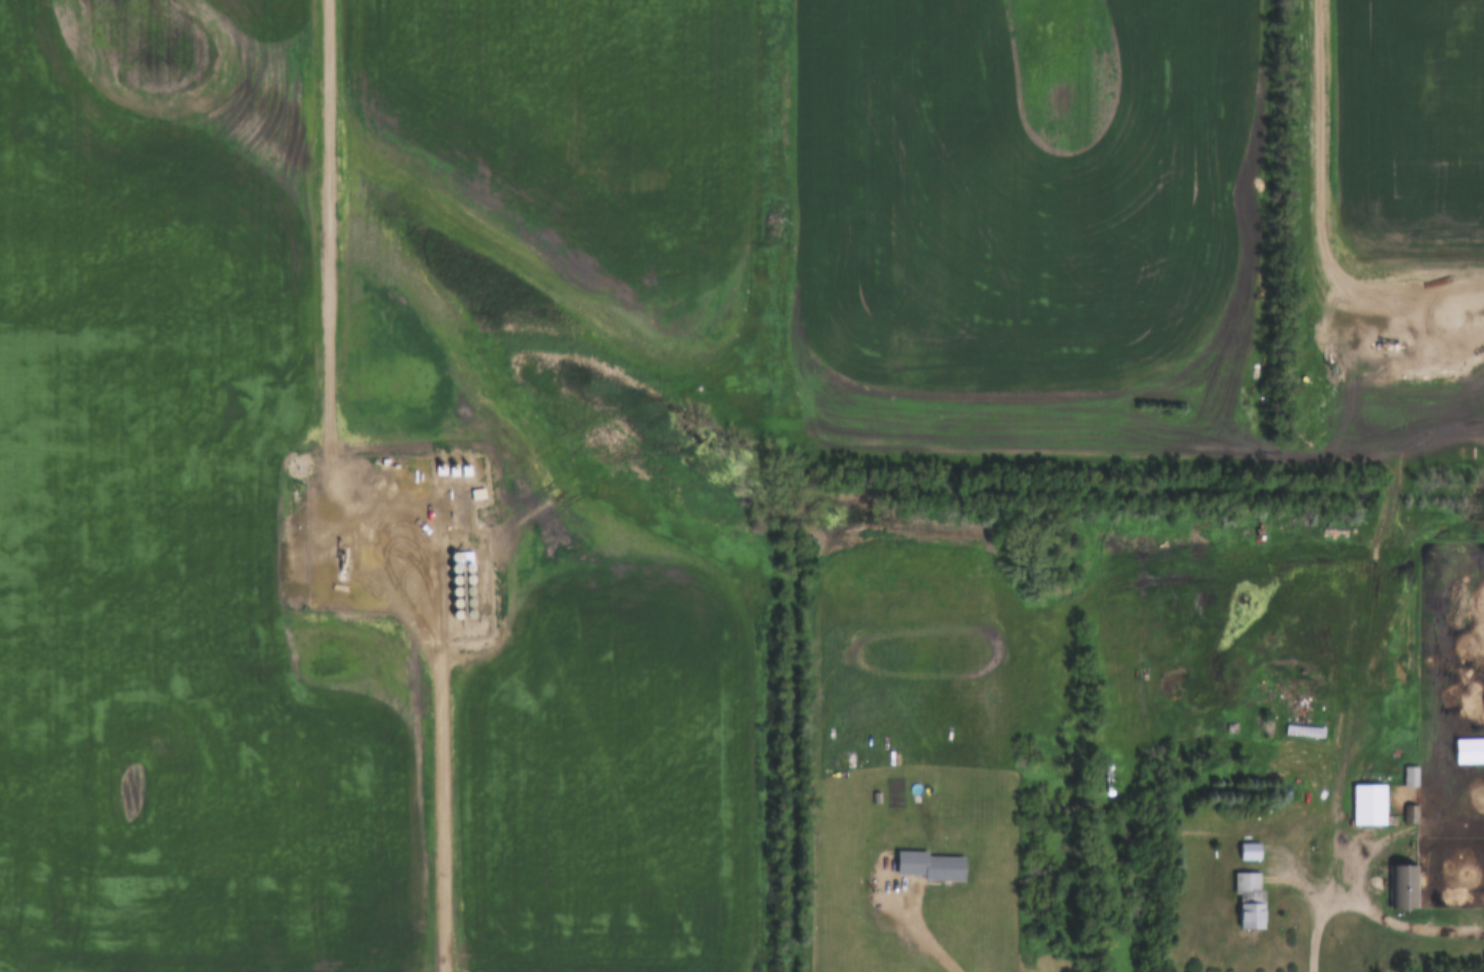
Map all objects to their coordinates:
road: (1301, 305)
road: (1355, 665)
building: (1303, 732)
building: (1409, 777)
building: (1368, 805)
building: (1249, 851)
building: (943, 868)
building: (1401, 886)
building: (1249, 899)
road: (1401, 921)
road: (1316, 929)

